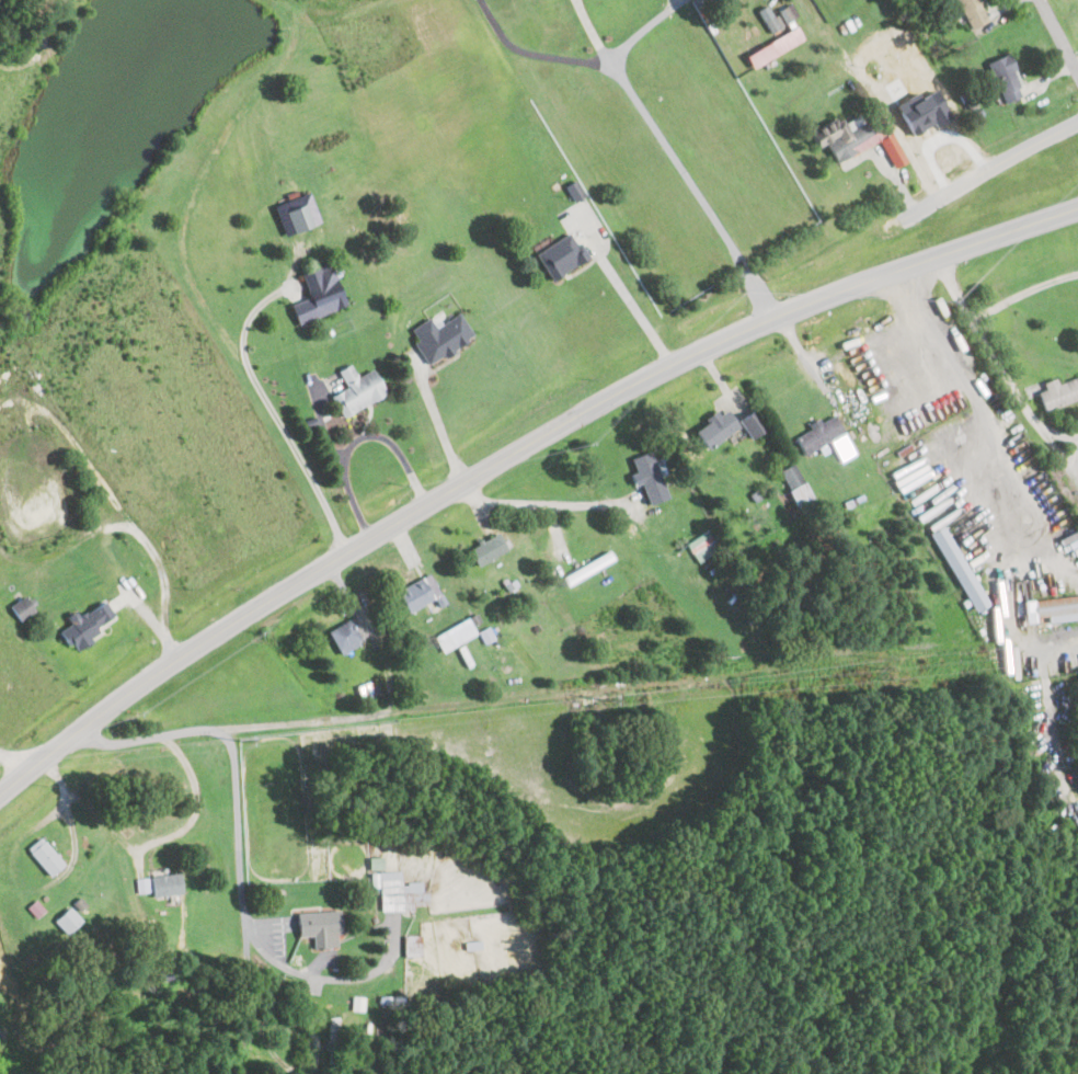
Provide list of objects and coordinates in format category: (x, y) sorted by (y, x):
building: (972, 12)
building: (780, 18)
road: (1062, 30)
road: (593, 36)
building: (776, 45)
road: (536, 54)
building: (1006, 78)
building: (909, 94)
road: (884, 112)
building: (878, 129)
building: (844, 136)
road: (669, 149)
building: (892, 149)
road: (988, 168)
building: (574, 190)
building: (297, 213)
building: (562, 253)
road: (1024, 292)
building: (319, 293)
road: (632, 305)
building: (440, 336)
road: (1005, 367)
building: (356, 390)
building: (1057, 392)
road: (273, 416)
road: (987, 423)
building: (732, 426)
road: (436, 427)
building: (818, 434)
road: (356, 438)
road: (80, 447)
road: (515, 453)
building: (650, 477)
building: (795, 484)
road: (546, 505)
road: (67, 545)
building: (703, 545)
building: (486, 549)
building: (586, 565)
building: (959, 568)
road: (165, 590)
building: (415, 595)
building: (23, 606)
building: (1056, 607)
building: (87, 625)
building: (454, 635)
building: (344, 636)
power tower: (883, 669)
power tower: (605, 700)
road: (345, 716)
power tower: (240, 740)
road: (15, 758)
road: (234, 761)
road: (194, 814)
road: (71, 830)
building: (45, 854)
building: (376, 861)
building: (165, 883)
building: (141, 884)
building: (401, 891)
building: (36, 909)
building: (68, 918)
building: (318, 925)
building: (413, 944)
road: (314, 974)
building: (357, 1002)
building: (333, 1027)

